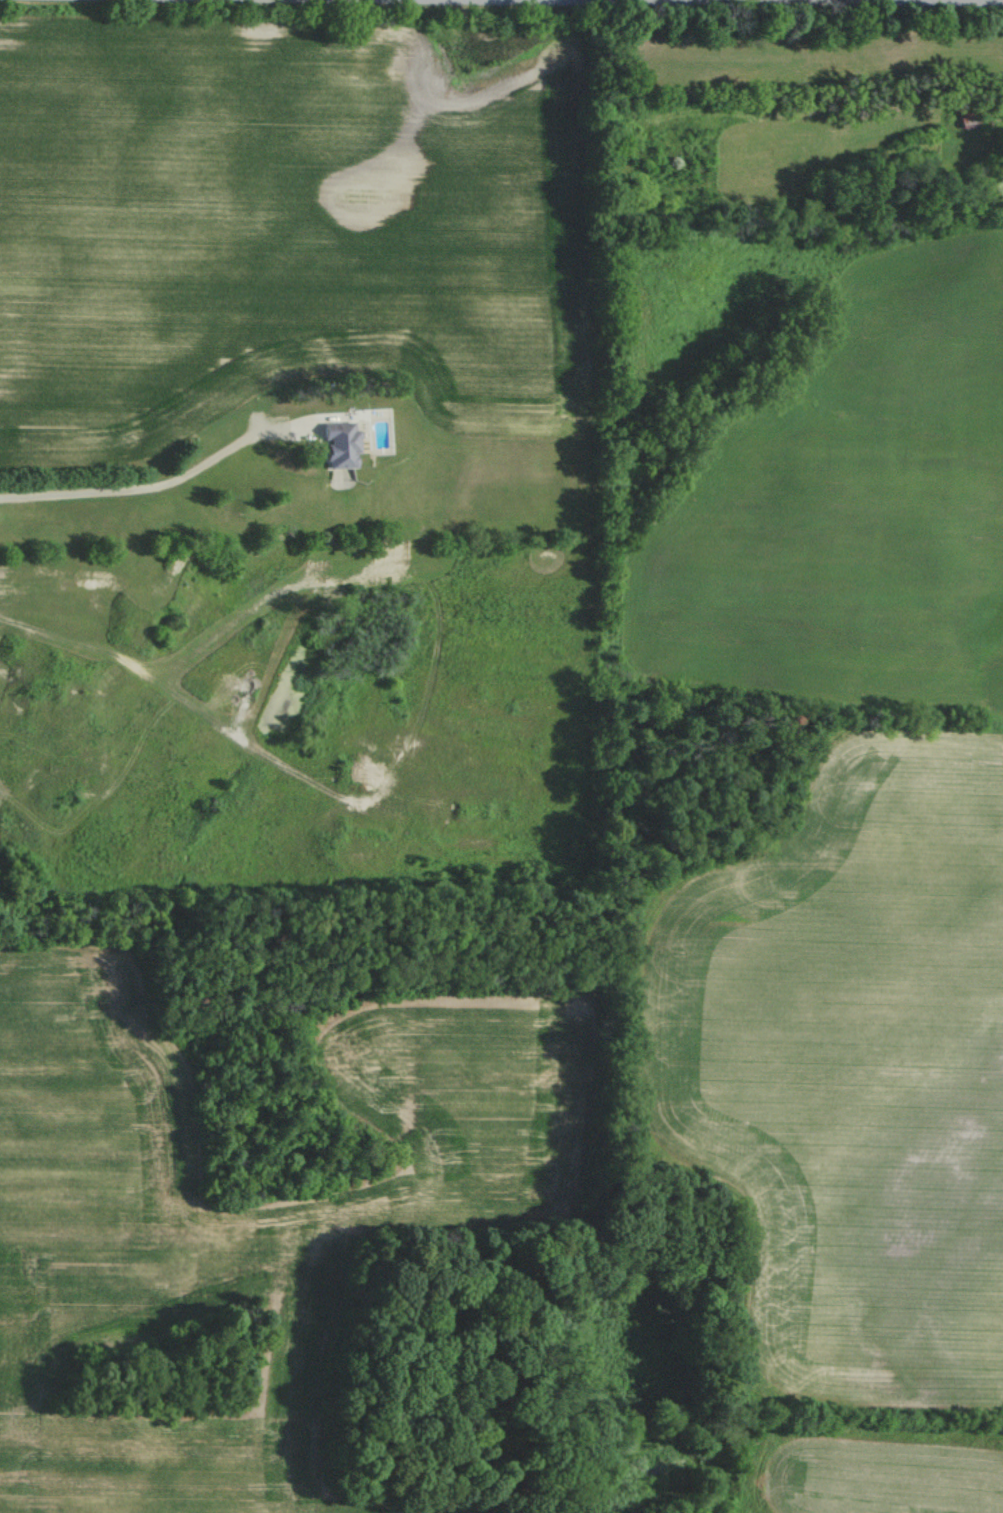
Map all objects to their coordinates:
building: (967, 118)
building: (338, 443)
road: (158, 486)

